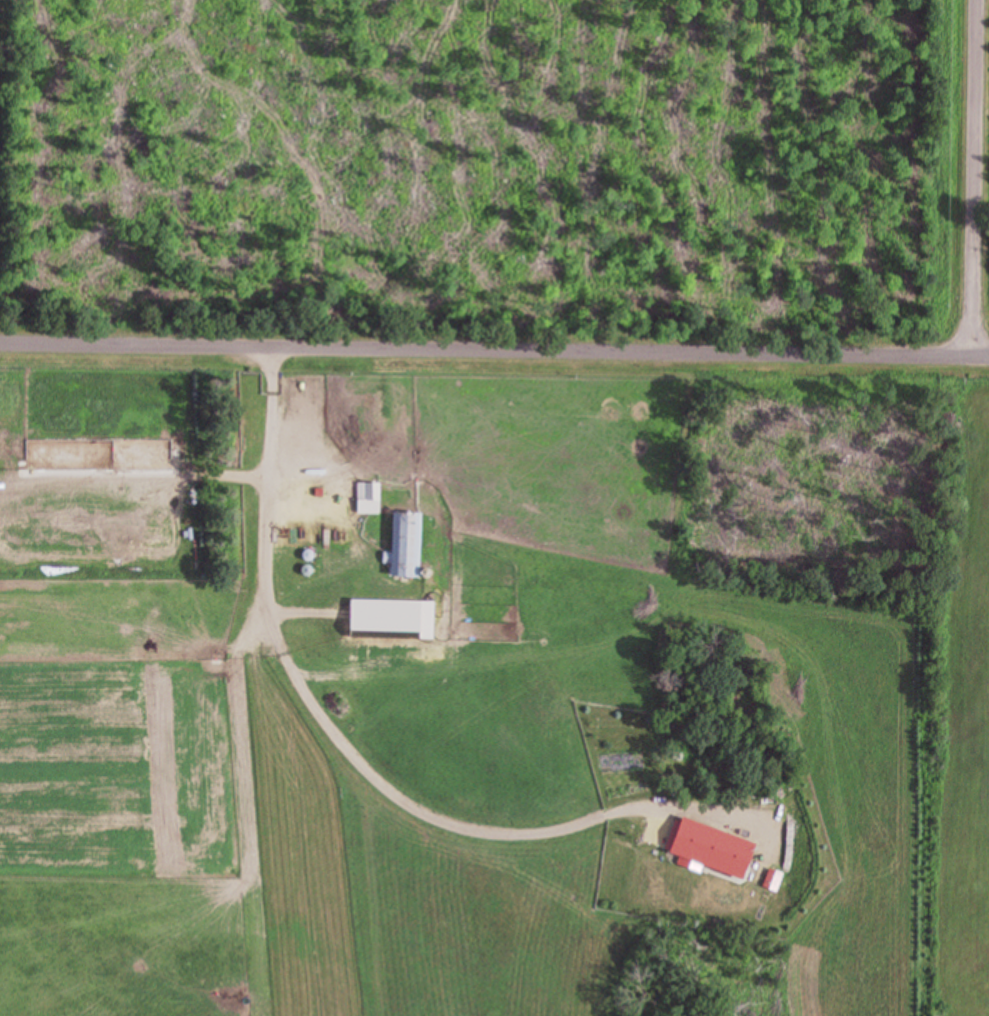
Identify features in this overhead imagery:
road: (988, 219)
road: (494, 350)
building: (369, 492)
building: (410, 545)
road: (318, 717)
building: (718, 849)

